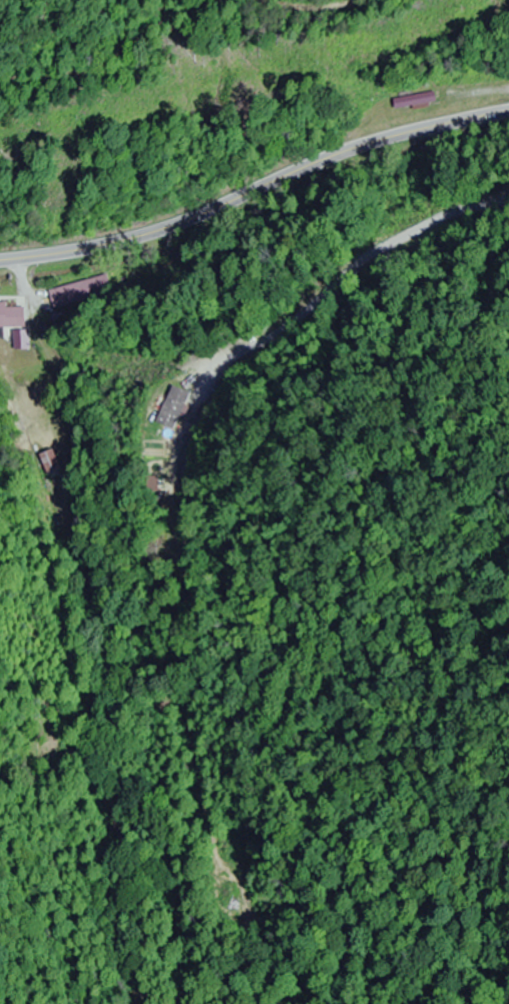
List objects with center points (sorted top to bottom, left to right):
building: (413, 101)
road: (255, 190)
building: (64, 296)
building: (12, 315)
building: (22, 338)
building: (175, 406)
building: (49, 462)

